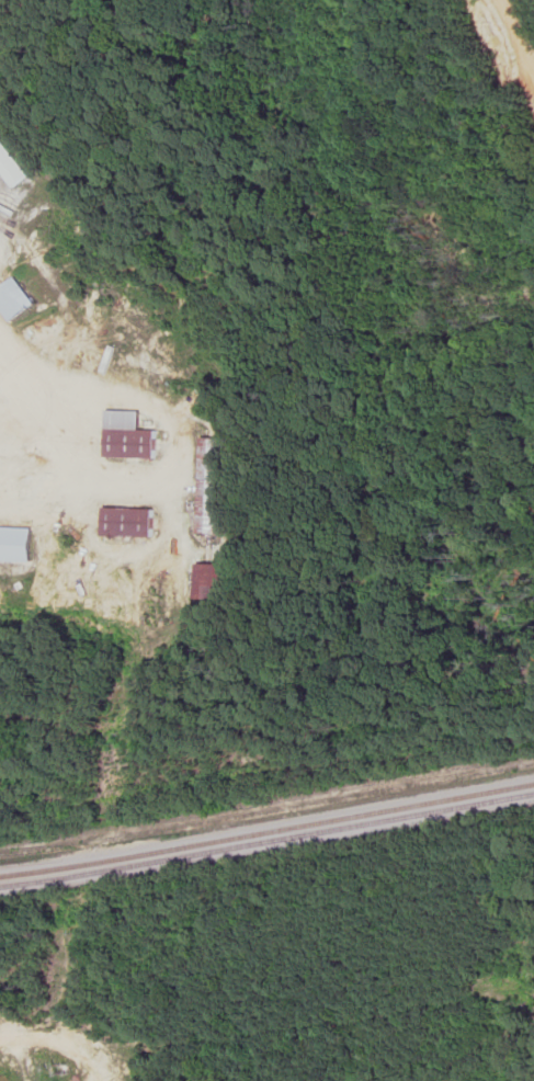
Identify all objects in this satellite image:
road: (512, 43)
building: (10, 170)
building: (13, 301)
building: (128, 439)
building: (209, 489)
building: (128, 524)
building: (15, 546)
railway: (266, 831)
railway: (266, 841)

